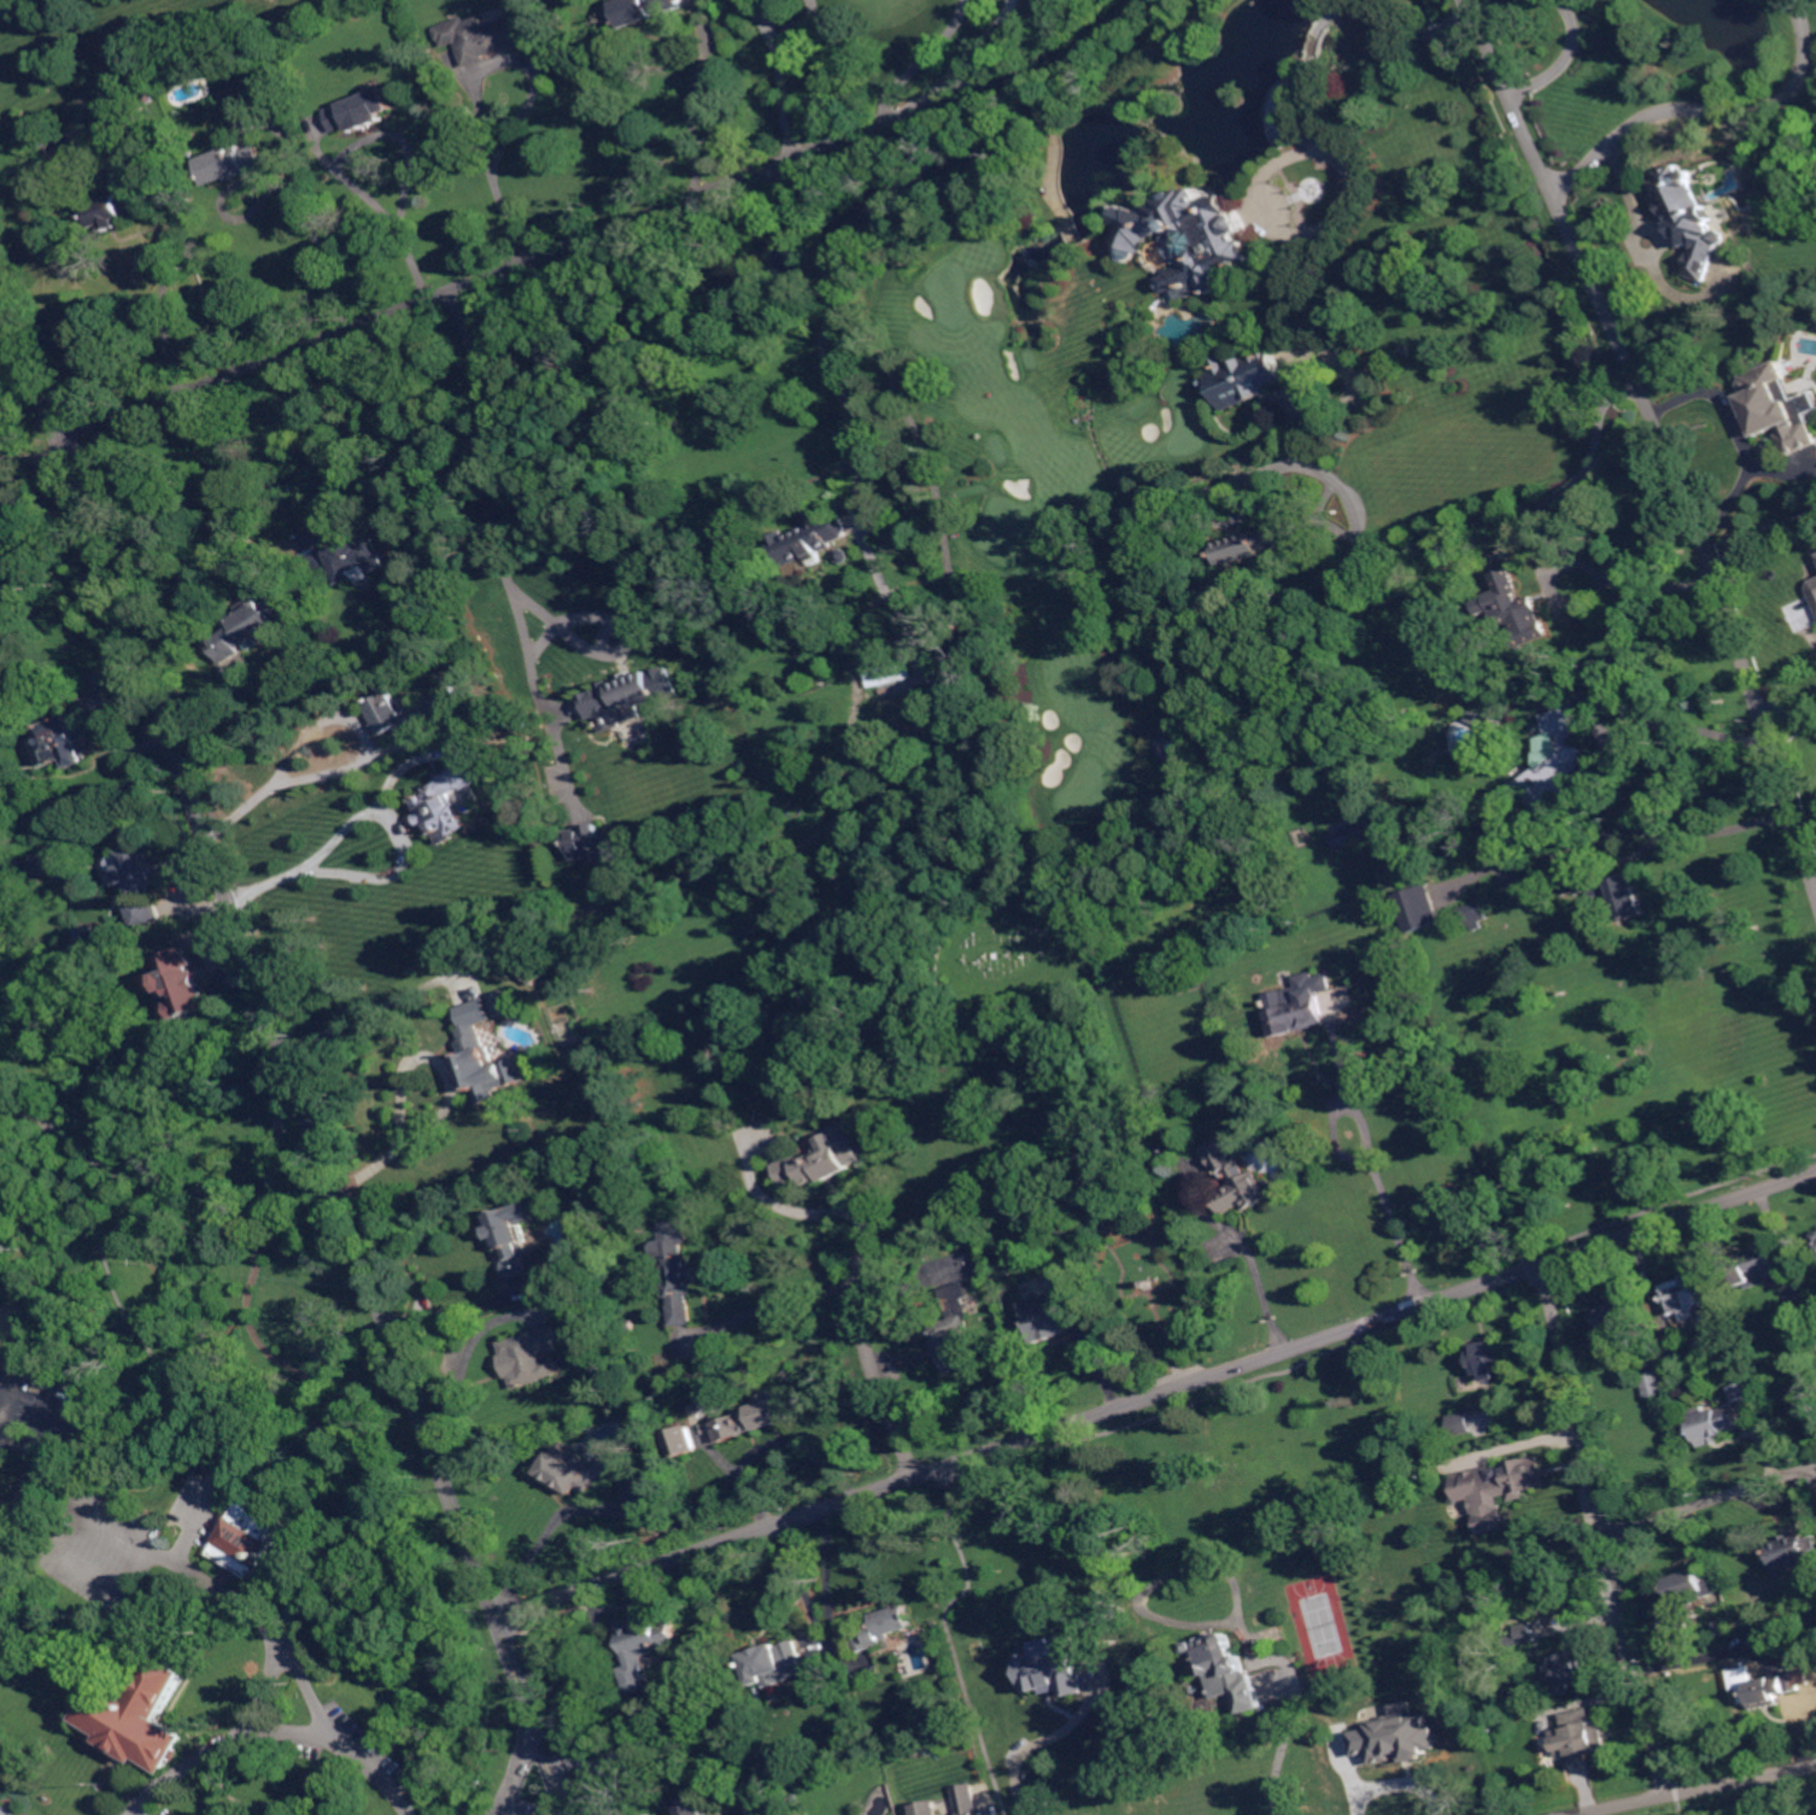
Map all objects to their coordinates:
road: (16, 4)
building: (643, 10)
building: (485, 37)
road: (1563, 59)
building: (1530, 76)
road: (778, 80)
road: (933, 87)
road: (885, 89)
road: (1512, 96)
road: (531, 98)
building: (361, 110)
road: (1712, 112)
road: (693, 113)
building: (131, 134)
road: (399, 141)
road: (1278, 160)
building: (234, 164)
road: (297, 183)
road: (793, 205)
building: (115, 207)
building: (1691, 218)
building: (1183, 239)
road: (561, 251)
road: (814, 253)
road: (165, 301)
road: (13, 344)
road: (1301, 369)
building: (1247, 379)
road: (833, 380)
building: (1776, 408)
road: (1736, 435)
road: (332, 441)
road: (498, 499)
building: (877, 513)
building: (410, 517)
road: (1700, 534)
building: (807, 538)
building: (1254, 543)
building: (843, 556)
building: (353, 560)
building: (1452, 561)
building: (1814, 589)
road: (1592, 593)
building: (1515, 610)
building: (252, 623)
building: (888, 671)
building: (473, 672)
building: (619, 696)
road: (1788, 705)
building: (491, 710)
building: (397, 713)
road: (324, 718)
building: (1478, 718)
building: (520, 724)
road: (1681, 728)
building: (66, 743)
building: (1173, 756)
building: (1557, 763)
building: (34, 780)
building: (443, 803)
road: (370, 808)
road: (1615, 827)
road: (1806, 827)
building: (1352, 837)
building: (586, 842)
building: (46, 861)
building: (1428, 866)
building: (140, 871)
building: (1610, 895)
building: (1418, 909)
building: (1475, 915)
park: (1019, 954)
building: (531, 972)
building: (189, 980)
building: (1188, 983)
building: (505, 1002)
road: (371, 1012)
building: (1293, 1012)
road: (285, 1042)
building: (481, 1056)
building: (1241, 1058)
road: (449, 1089)
road: (19, 1103)
road: (87, 1152)
building: (1084, 1154)
building: (820, 1160)
road: (1375, 1169)
building: (1237, 1179)
road: (174, 1183)
road: (807, 1211)
building: (572, 1231)
building: (1815, 1234)
building: (512, 1239)
building: (1814, 1241)
building: (1757, 1267)
road: (1256, 1270)
building: (675, 1272)
road: (498, 1295)
building: (1683, 1296)
road: (787, 1300)
road: (122, 1306)
building: (1800, 1311)
building: (1054, 1313)
building: (1615, 1321)
building: (956, 1330)
road: (465, 1356)
building: (527, 1357)
building: (1489, 1359)
road: (874, 1371)
building: (1653, 1386)
building: (1738, 1390)
building: (597, 1392)
road: (1158, 1393)
building: (755, 1417)
building: (1459, 1422)
building: (1714, 1424)
building: (209, 1427)
road: (6, 1440)
road: (379, 1440)
building: (683, 1441)
road: (31, 1452)
building: (580, 1471)
building: (1, 1473)
building: (1522, 1477)
building: (0, 1494)
road: (1711, 1500)
road: (23, 1520)
road: (550, 1528)
road: (1605, 1529)
building: (250, 1538)
building: (0, 1542)
building: (1, 1548)
building: (1793, 1552)
road: (164, 1556)
road: (1158, 1579)
building: (1686, 1598)
building: (1723, 1628)
building: (883, 1630)
building: (1771, 1634)
building: (1521, 1635)
building: (645, 1645)
road: (280, 1652)
building: (1225, 1661)
building: (774, 1663)
building: (1054, 1665)
building: (1564, 1671)
building: (1767, 1686)
road: (1293, 1706)
building: (142, 1717)
building: (1398, 1735)
building: (1581, 1737)
road: (1032, 1745)
building: (1331, 1749)
building: (933, 1752)
building: (896, 1756)
building: (769, 1757)
road: (599, 1763)
road: (516, 1774)
road: (1399, 1784)
road: (1693, 1790)
road: (1764, 1796)
building: (795, 1799)
building: (967, 1799)
road: (8, 1804)
road: (14, 1804)
building: (693, 1805)
building: (772, 1808)
building: (928, 1808)
road: (4, 1810)
road: (520, 1810)
road: (0, 1814)

